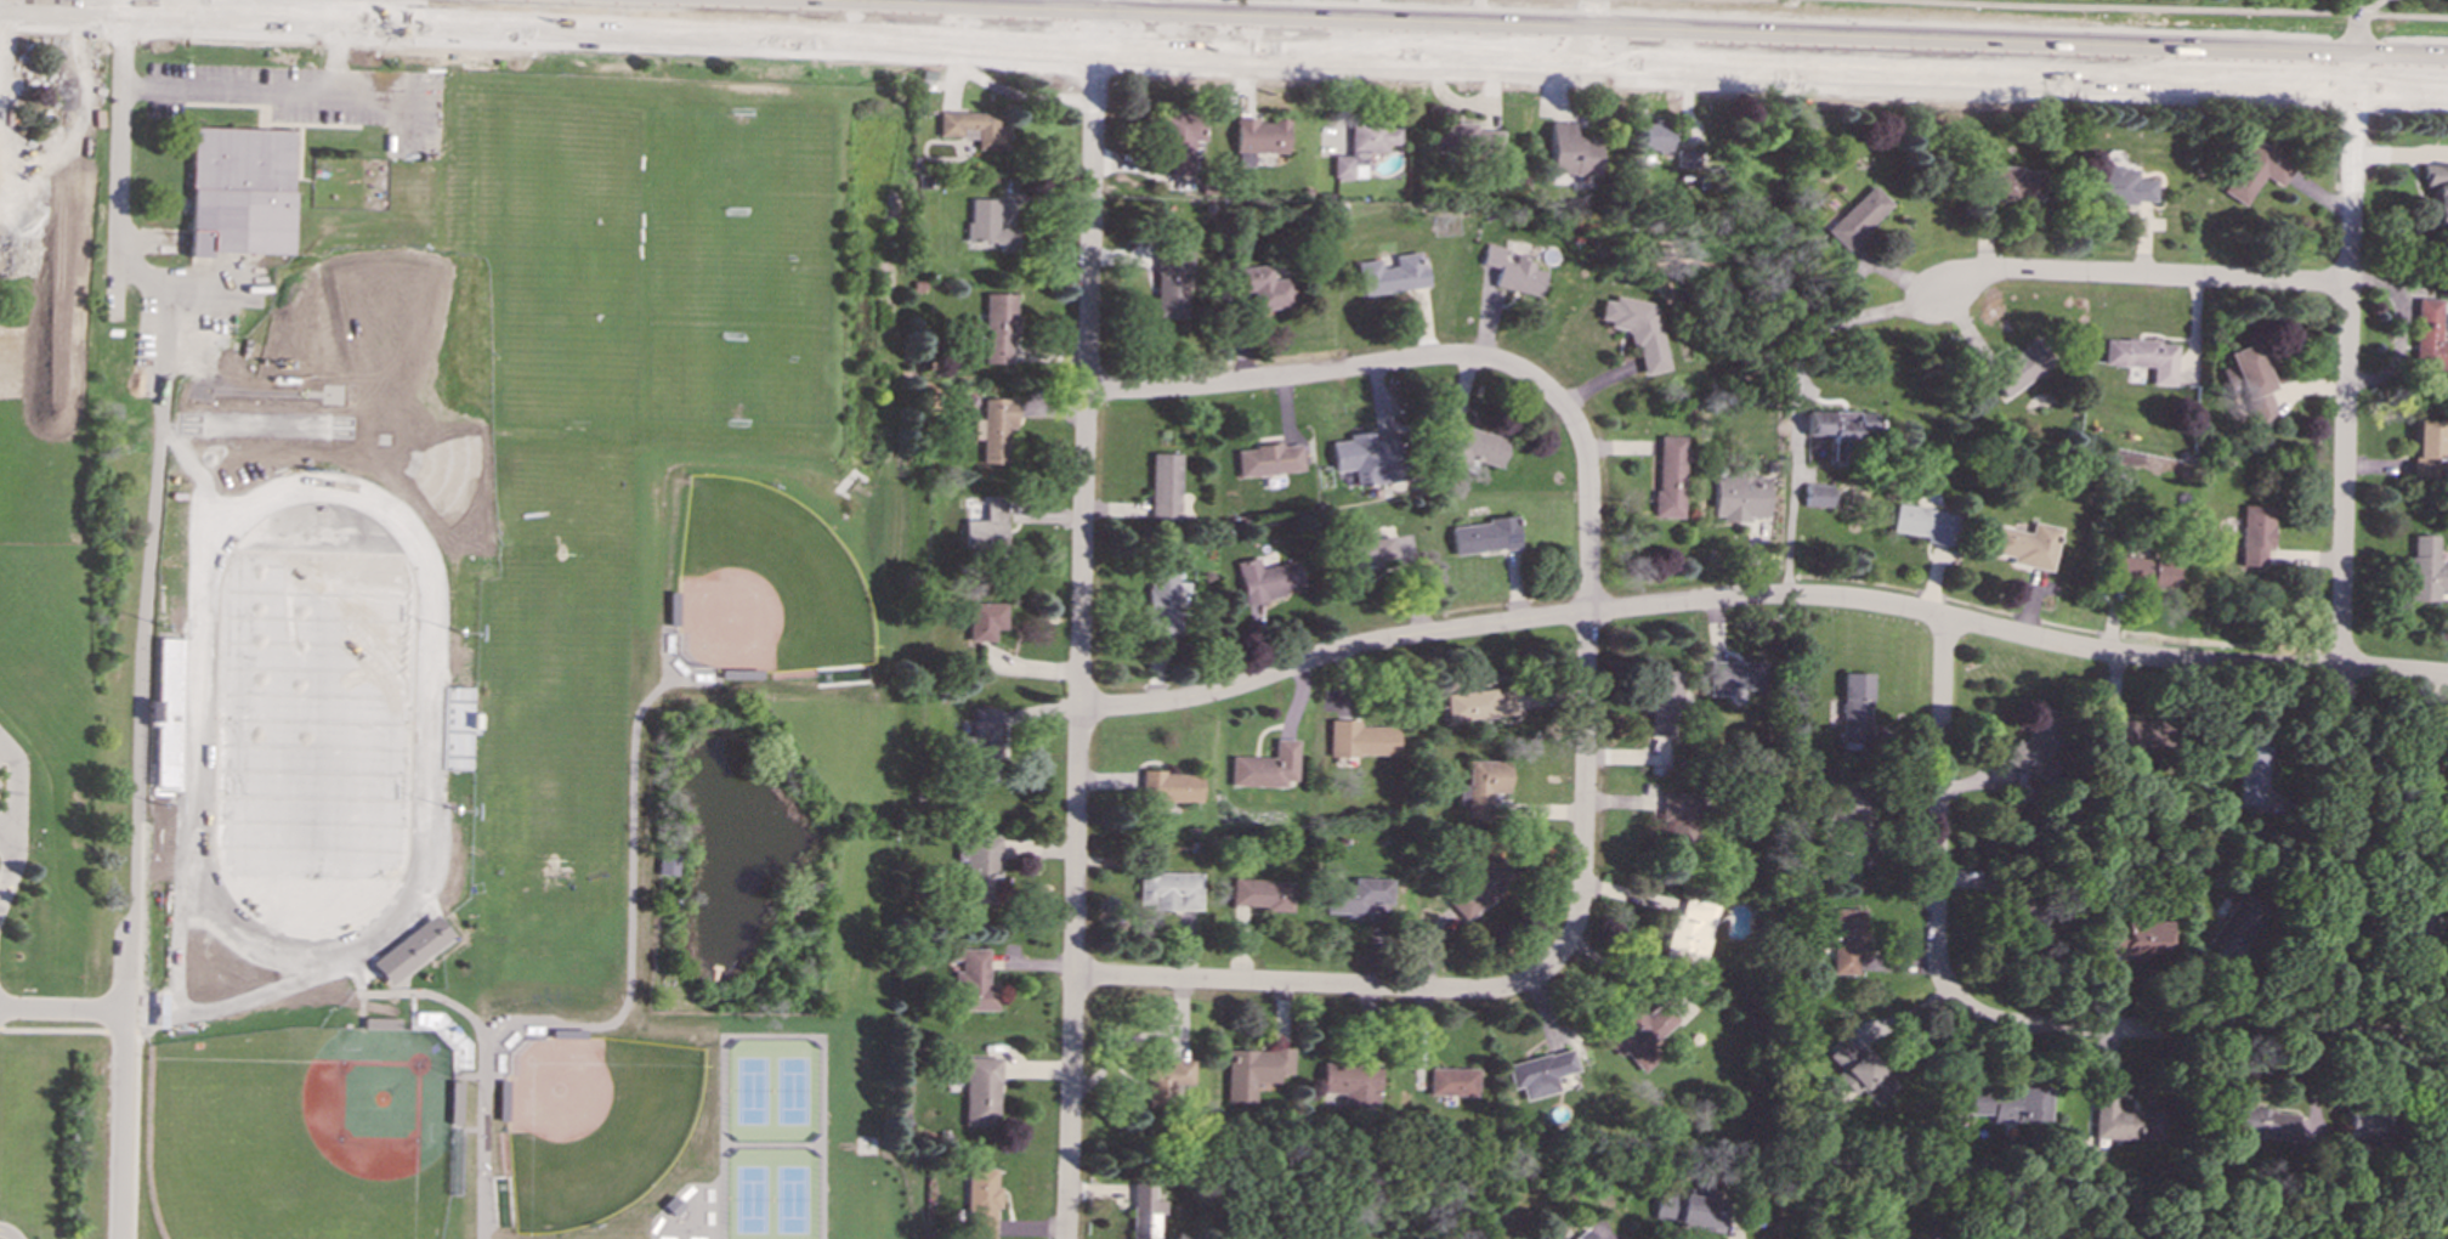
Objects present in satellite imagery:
road: (648, 0)
road: (1166, 0)
road: (633, 1)
road: (2108, 6)
road: (342, 7)
road: (1054, 7)
road: (1297, 7)
road: (1591, 7)
road: (1368, 9)
road: (1524, 16)
park: (2142, 18)
road: (2359, 21)
road: (59, 32)
road: (1223, 47)
road: (1283, 74)
road: (287, 89)
parking lot: (317, 97)
building: (973, 128)
building: (1654, 136)
building: (1258, 137)
building: (1467, 137)
building: (1180, 140)
building: (1364, 146)
building: (1569, 151)
road: (120, 154)
building: (1687, 157)
building: (2256, 170)
building: (2012, 181)
building: (2120, 186)
building: (242, 191)
building: (2437, 191)
building: (1858, 217)
building: (988, 225)
park: (549, 261)
park: (741, 265)
building: (1513, 271)
building: (1393, 273)
road: (2137, 276)
building: (1171, 279)
building: (1262, 287)
building: (998, 327)
building: (1637, 329)
building: (2429, 336)
building: (2143, 357)
building: (2021, 366)
road: (1313, 374)
building: (2251, 383)
road: (1797, 394)
building: (994, 428)
building: (1838, 430)
building: (1472, 445)
building: (2429, 449)
building: (1367, 457)
building: (1269, 459)
building: (1670, 476)
building: (1164, 486)
building: (1817, 494)
building: (1740, 496)
building: (1923, 522)
building: (987, 526)
building: (2256, 526)
building: (1485, 536)
track: (205, 537)
road: (2342, 539)
building: (2027, 544)
building: (1371, 553)
building: (2425, 568)
building: (2142, 571)
building: (1266, 579)
park: (765, 582)
road: (1762, 595)
building: (1161, 600)
building: (674, 607)
road: (146, 615)
building: (985, 619)
road: (1079, 626)
building: (741, 673)
park: (843, 673)
building: (1734, 675)
road: (1586, 677)
building: (1664, 702)
building: (1479, 703)
park: (556, 705)
building: (1855, 705)
building: (171, 711)
park: (313, 717)
track: (314, 718)
building: (457, 728)
road: (758, 732)
building: (2133, 732)
building: (1362, 739)
building: (982, 745)
building: (2036, 745)
building: (1268, 766)
building: (2251, 770)
road: (443, 781)
parking lot: (2, 782)
building: (1169, 786)
building: (1481, 786)
road: (157, 787)
road: (16, 813)
building: (1678, 814)
building: (1853, 817)
road: (1937, 817)
road: (7, 819)
road: (441, 852)
building: (668, 862)
building: (981, 869)
building: (1480, 887)
building: (1169, 889)
track: (195, 890)
building: (1263, 893)
building: (1358, 895)
road: (630, 905)
road: (433, 910)
road: (140, 928)
building: (1689, 930)
building: (2235, 930)
building: (2132, 938)
building: (1847, 939)
road: (195, 945)
building: (412, 949)
road: (361, 957)
road: (716, 966)
road: (715, 980)
building: (974, 980)
road: (1305, 985)
road: (313, 990)
road: (668, 991)
road: (192, 995)
road: (712, 1000)
road: (64, 1005)
road: (362, 1009)
road: (413, 1009)
road: (663, 1017)
building: (381, 1022)
road: (661, 1024)
road: (68, 1030)
building: (568, 1031)
road: (2203, 1031)
building: (1638, 1034)
building: (444, 1035)
road: (772, 1035)
building: (1253, 1070)
building: (1540, 1073)
building: (1858, 1073)
road: (466, 1074)
building: (1164, 1080)
building: (1351, 1081)
building: (1452, 1081)
park: (792, 1088)
park: (752, 1090)
building: (980, 1090)
building: (503, 1099)
building: (457, 1101)
building: (1999, 1102)
building: (2124, 1120)
building: (2313, 1121)
road: (124, 1122)
park: (593, 1122)
building: (2261, 1122)
building: (2365, 1122)
road: (474, 1127)
park: (299, 1133)
park: (455, 1158)
park: (752, 1198)
park: (793, 1198)
park: (503, 1200)
building: (980, 1203)
building: (674, 1204)
building: (1144, 1210)
building: (1689, 1210)
road: (7, 1233)
building: (1585, 1235)

